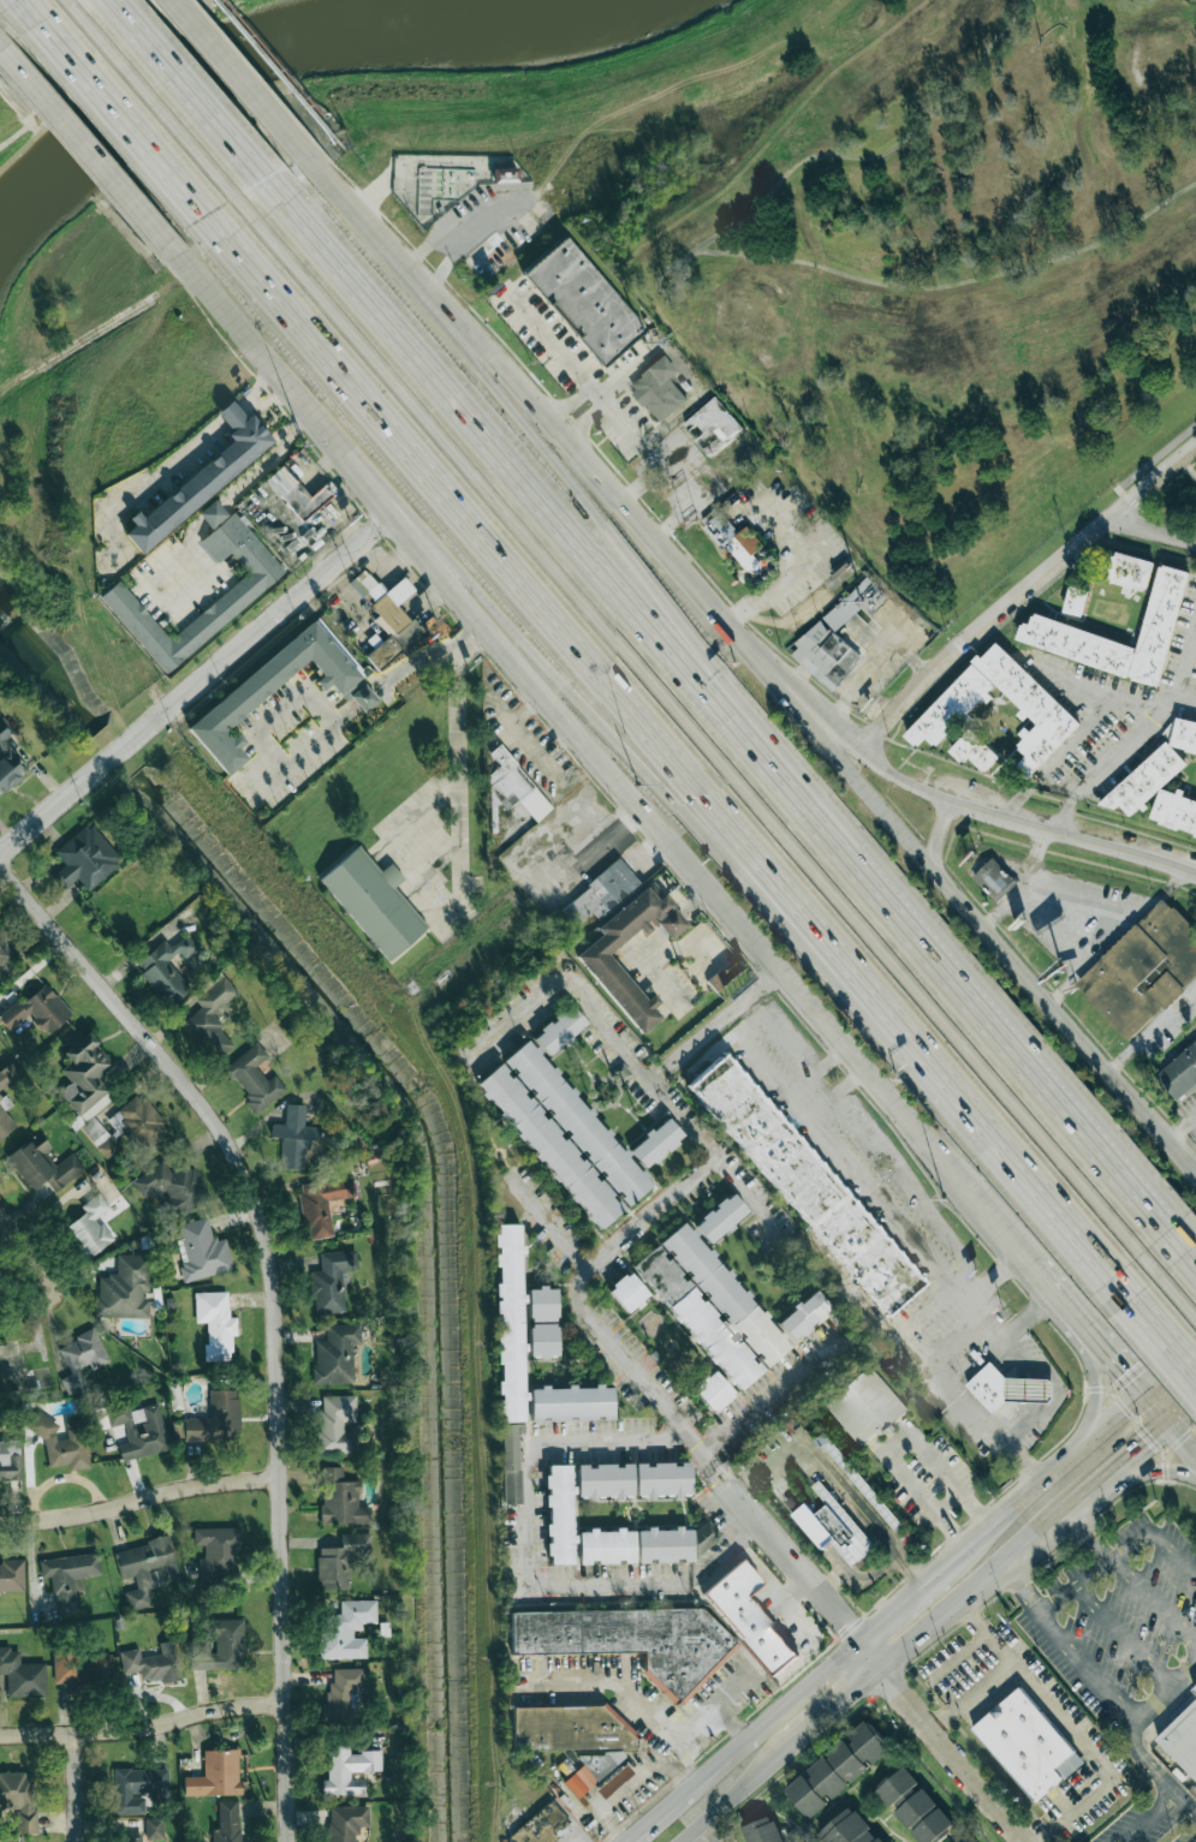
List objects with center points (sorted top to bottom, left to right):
road: (65, 1)
road: (29, 11)
road: (2, 43)
river: (273, 55)
road: (113, 64)
road: (237, 77)
road: (182, 89)
road: (150, 100)
road: (119, 120)
road: (87, 143)
building: (505, 174)
road: (367, 223)
building: (583, 300)
road: (472, 341)
road: (566, 358)
road: (260, 385)
building: (657, 389)
road: (595, 397)
road: (272, 399)
road: (602, 406)
building: (713, 427)
building: (202, 477)
road: (159, 481)
building: (298, 493)
road: (232, 496)
building: (212, 513)
road: (633, 520)
road: (1154, 527)
building: (732, 538)
building: (1127, 572)
road: (792, 574)
road: (189, 583)
building: (365, 584)
building: (249, 588)
road: (1023, 592)
building: (1075, 601)
building: (846, 607)
building: (393, 624)
building: (1159, 624)
building: (827, 655)
road: (1184, 666)
river: (49, 668)
road: (559, 673)
road: (1083, 681)
road: (196, 682)
building: (246, 693)
road: (362, 697)
building: (1037, 705)
road: (279, 711)
road: (559, 714)
road: (721, 714)
road: (843, 733)
road: (1081, 733)
building: (1182, 734)
road: (691, 739)
river: (119, 752)
building: (976, 753)
road: (1113, 753)
building: (8, 761)
road: (659, 762)
road: (805, 771)
building: (1146, 781)
building: (513, 786)
road: (458, 788)
building: (1174, 811)
road: (418, 818)
road: (935, 834)
road: (1071, 839)
road: (585, 852)
building: (85, 858)
road: (432, 862)
building: (994, 881)
road: (406, 884)
road: (1022, 884)
building: (600, 895)
building: (374, 902)
road: (971, 913)
road: (1108, 919)
road: (644, 943)
road: (685, 948)
building: (7, 952)
building: (166, 968)
building: (1143, 970)
building: (612, 978)
building: (212, 1018)
road: (722, 1020)
road: (752, 1027)
road: (1152, 1027)
building: (559, 1030)
road: (627, 1053)
road: (816, 1069)
building: (620, 1072)
road: (657, 1072)
building: (1179, 1073)
building: (84, 1075)
building: (254, 1078)
road: (837, 1091)
building: (2, 1097)
building: (138, 1122)
road: (1180, 1126)
building: (293, 1137)
building: (572, 1137)
building: (100, 1138)
road: (876, 1149)
building: (42, 1164)
road: (852, 1167)
building: (804, 1185)
building: (173, 1187)
building: (322, 1204)
building: (720, 1217)
road: (547, 1220)
road: (993, 1226)
building: (90, 1227)
road: (19, 1242)
building: (201, 1250)
river: (440, 1253)
road: (1190, 1257)
building: (331, 1281)
building: (125, 1288)
road: (969, 1294)
road: (1053, 1296)
road: (1177, 1296)
road: (43, 1302)
road: (579, 1304)
building: (703, 1305)
road: (274, 1309)
building: (804, 1316)
building: (215, 1323)
building: (510, 1323)
building: (542, 1323)
road: (998, 1340)
road: (1161, 1342)
road: (1011, 1351)
building: (337, 1354)
road: (1155, 1357)
building: (81, 1359)
road: (1024, 1363)
road: (1109, 1363)
traffic signals: (1118, 1373)
road: (1168, 1377)
traffic signals: (1170, 1377)
building: (989, 1385)
road: (775, 1389)
building: (713, 1390)
road: (1017, 1390)
building: (1029, 1390)
gas station: (1029, 1390)
road: (1031, 1390)
road: (1090, 1396)
building: (571, 1402)
building: (864, 1406)
road: (1178, 1408)
road: (1150, 1413)
road: (1024, 1417)
building: (214, 1418)
building: (335, 1424)
road: (1012, 1427)
building: (139, 1430)
road: (996, 1436)
road: (894, 1439)
traffic signals: (1142, 1441)
building: (63, 1443)
road: (1094, 1443)
road: (1178, 1443)
road: (1127, 1453)
building: (10, 1460)
building: (510, 1465)
road: (1144, 1472)
building: (633, 1479)
road: (1081, 1495)
building: (340, 1498)
road: (138, 1500)
road: (946, 1501)
road: (534, 1512)
road: (980, 1513)
building: (560, 1514)
building: (833, 1528)
road: (995, 1528)
road: (1085, 1531)
road: (952, 1536)
road: (1033, 1536)
building: (644, 1544)
road: (728, 1552)
building: (216, 1554)
road: (786, 1554)
road: (1172, 1557)
building: (339, 1562)
building: (147, 1568)
road: (1095, 1573)
building: (11, 1575)
building: (69, 1575)
road: (982, 1579)
road: (1021, 1588)
road: (1150, 1597)
road: (902, 1606)
building: (749, 1617)
parking lot: (1121, 1617)
building: (346, 1629)
road: (921, 1629)
road: (1124, 1639)
building: (632, 1641)
building: (218, 1645)
road: (845, 1651)
building: (153, 1663)
building: (81, 1667)
road: (999, 1667)
road: (1090, 1667)
building: (22, 1675)
road: (626, 1689)
building: (343, 1694)
road: (833, 1703)
road: (712, 1707)
road: (730, 1722)
road: (141, 1727)
building: (575, 1736)
building: (1180, 1736)
road: (941, 1741)
road: (1131, 1741)
building: (1025, 1743)
road: (730, 1753)
road: (1093, 1753)
building: (349, 1770)
building: (838, 1770)
building: (215, 1775)
building: (613, 1781)
road: (72, 1787)
building: (897, 1787)
building: (136, 1788)
road: (625, 1789)
road: (733, 1792)
building: (19, 1799)
building: (924, 1818)
building: (227, 1822)
building: (345, 1823)
building: (541, 1825)
building: (154, 1829)
building: (847, 1830)
building: (762, 1831)
road: (703, 1832)
building: (133, 1837)
road: (579, 1838)

